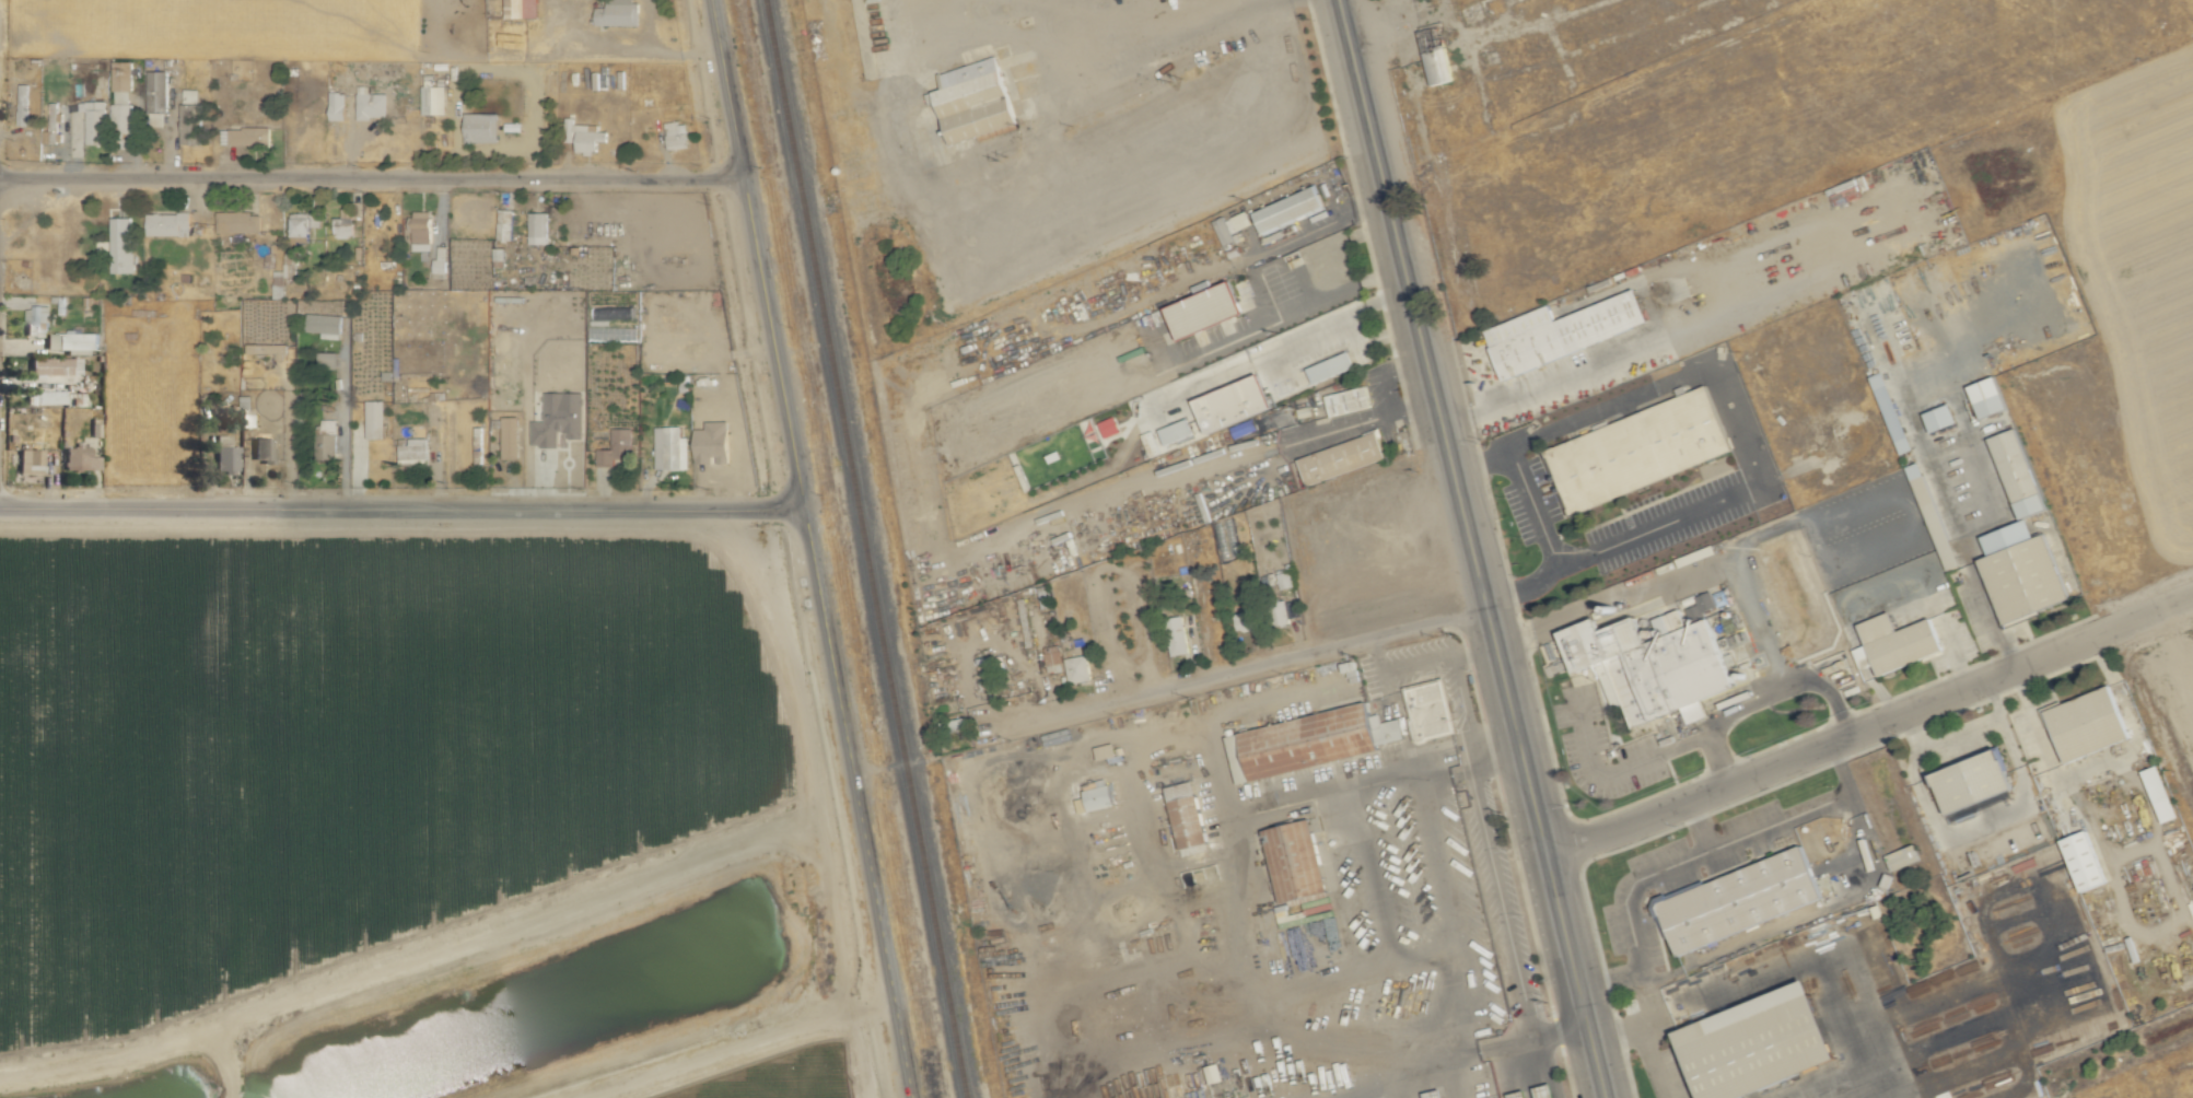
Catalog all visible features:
building: (522, 9)
building: (618, 13)
road: (1148, 39)
building: (1435, 55)
building: (159, 97)
building: (433, 100)
building: (976, 101)
building: (372, 103)
building: (23, 104)
building: (338, 105)
building: (190, 117)
building: (96, 121)
building: (57, 122)
building: (481, 127)
building: (678, 135)
building: (245, 137)
building: (590, 138)
road: (371, 177)
building: (1291, 209)
building: (238, 222)
building: (167, 223)
building: (343, 224)
building: (504, 224)
building: (300, 225)
building: (1230, 226)
building: (538, 227)
building: (421, 230)
building: (121, 245)
road: (756, 255)
building: (441, 258)
building: (283, 274)
building: (1208, 307)
building: (326, 325)
building: (1563, 331)
building: (59, 334)
road: (1372, 340)
road: (1278, 344)
building: (266, 348)
building: (58, 366)
building: (1331, 366)
road: (1722, 379)
building: (47, 397)
building: (1990, 397)
building: (1349, 400)
building: (1236, 404)
building: (247, 411)
building: (1892, 412)
building: (560, 418)
building: (1944, 418)
building: (376, 419)
road: (1568, 421)
building: (1110, 427)
road: (1440, 427)
building: (1177, 431)
building: (511, 436)
building: (329, 439)
building: (478, 445)
building: (616, 447)
building: (672, 448)
building: (1644, 448)
building: (265, 449)
building: (416, 451)
building: (226, 455)
building: (81, 458)
building: (1342, 458)
building: (31, 460)
building: (2020, 474)
road: (1523, 478)
road: (1736, 493)
road: (400, 510)
road: (1807, 521)
railway: (866, 549)
road: (1596, 553)
building: (2026, 572)
road: (1677, 574)
building: (1246, 620)
building: (1177, 635)
building: (1895, 645)
building: (1054, 654)
building: (1657, 662)
building: (1078, 668)
road: (1249, 668)
road: (1761, 701)
building: (1432, 709)
building: (2091, 724)
road: (1868, 725)
building: (1310, 741)
road: (1617, 772)
building: (1978, 782)
building: (2160, 794)
building: (1100, 795)
road: (856, 804)
road: (1810, 814)
building: (1189, 815)
road: (1984, 826)
building: (1904, 857)
building: (1298, 861)
building: (2085, 861)
road: (1629, 890)
building: (1741, 901)
building: (1059, 974)
road: (1574, 977)
road: (1646, 1039)
building: (1763, 1042)
road: (749, 1048)

